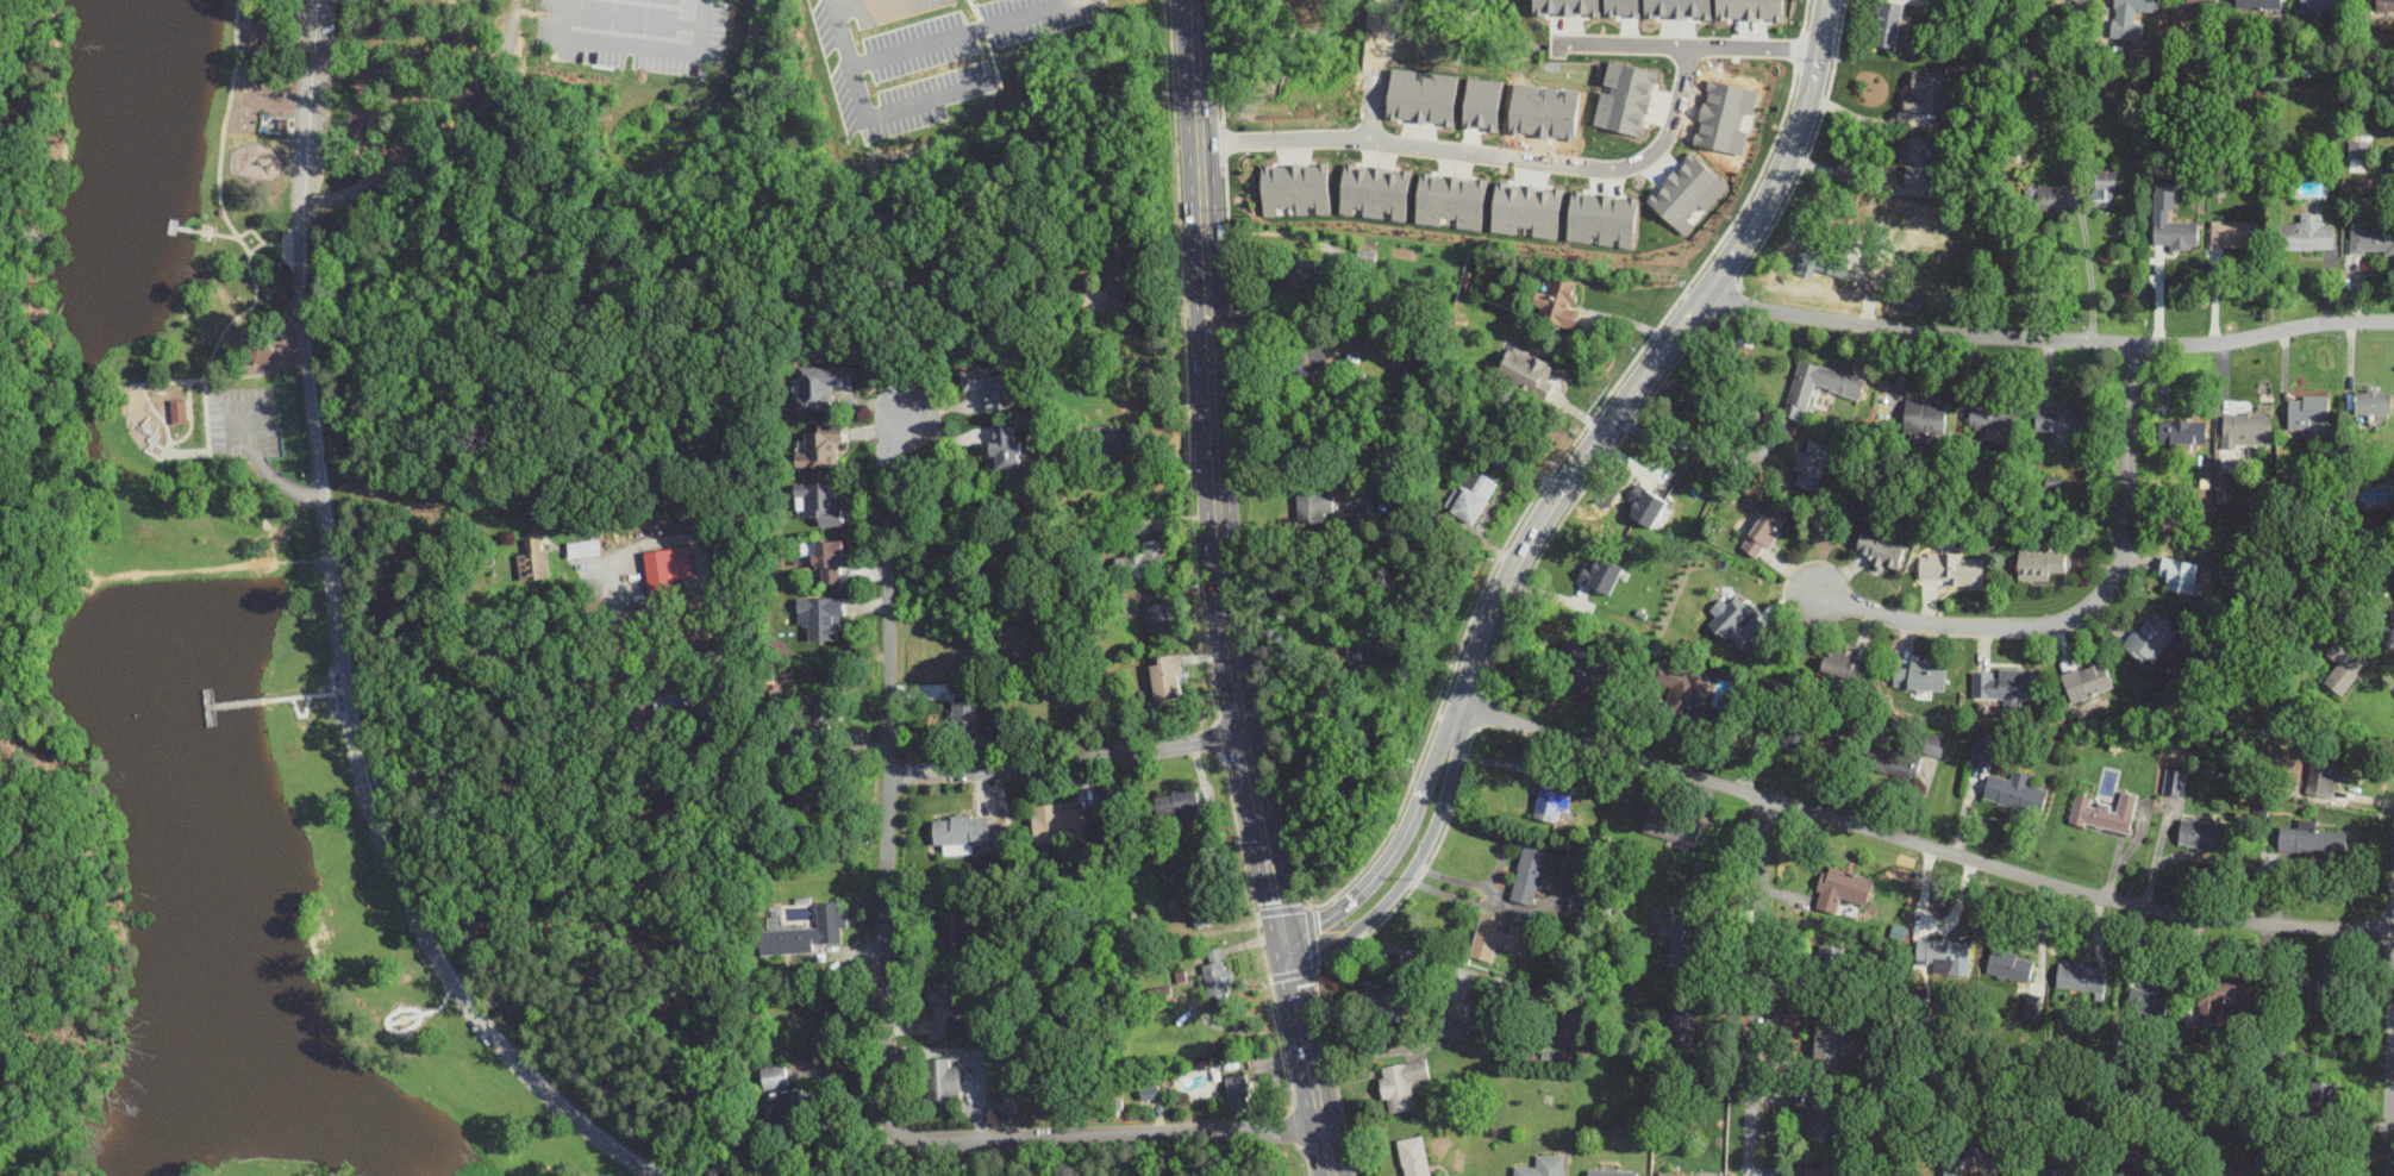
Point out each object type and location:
building: (2081, 2)
building: (2200, 4)
building: (2257, 5)
building: (2373, 5)
building: (2383, 6)
road: (851, 7)
building: (2321, 7)
building: (2131, 18)
road: (607, 19)
road: (655, 23)
building: (1887, 26)
road: (964, 32)
road: (637, 43)
road: (1686, 45)
road: (1373, 70)
building: (1925, 94)
building: (1418, 98)
road: (870, 114)
road: (1486, 152)
building: (2357, 155)
building: (1914, 159)
building: (2102, 187)
building: (1293, 189)
building: (1371, 190)
building: (2039, 199)
building: (1446, 201)
building: (2169, 221)
road: (170, 225)
road: (189, 229)
road: (221, 234)
building: (2231, 234)
building: (2304, 234)
road: (235, 236)
building: (2371, 239)
road: (262, 240)
road: (255, 248)
building: (1837, 265)
building: (1801, 267)
building: (1296, 273)
building: (1507, 292)
building: (1558, 302)
road: (2045, 336)
building: (256, 351)
building: (1312, 357)
building: (1408, 367)
building: (1527, 371)
road: (187, 380)
building: (823, 382)
building: (1815, 387)
building: (992, 388)
road: (86, 390)
building: (2370, 407)
building: (1914, 409)
building: (175, 411)
building: (2305, 412)
road: (1212, 414)
road: (160, 418)
road: (187, 418)
building: (1981, 419)
building: (2055, 423)
road: (1742, 427)
building: (2244, 429)
building: (2179, 430)
building: (1107, 436)
building: (1005, 445)
building: (823, 446)
building: (1806, 463)
road: (264, 468)
road: (1568, 486)
building: (1470, 494)
building: (823, 501)
building: (1642, 506)
building: (1329, 508)
building: (1138, 520)
building: (1764, 532)
park: (443, 544)
building: (587, 548)
building: (1881, 553)
building: (536, 559)
building: (827, 559)
building: (1142, 561)
building: (2037, 562)
dam: (279, 563)
building: (1951, 567)
building: (668, 569)
building: (1596, 573)
dam: (151, 574)
building: (2180, 574)
road: (2089, 609)
building: (824, 617)
building: (1158, 617)
building: (1740, 625)
building: (2387, 633)
building: (2150, 637)
road: (337, 643)
building: (1352, 656)
building: (1844, 662)
building: (1579, 664)
building: (2344, 665)
building: (1167, 676)
building: (1920, 676)
building: (2087, 680)
building: (2002, 683)
building: (1686, 688)
building: (683, 701)
building: (964, 714)
building: (817, 715)
building: (1789, 727)
building: (1934, 744)
building: (1982, 755)
road: (1068, 761)
building: (1893, 761)
building: (2327, 772)
building: (2174, 781)
road: (581, 782)
building: (2014, 792)
building: (1552, 800)
building: (1177, 802)
building: (2105, 812)
building: (1056, 821)
building: (1671, 826)
building: (958, 831)
building: (2201, 833)
building: (2313, 840)
road: (1923, 845)
building: (1529, 874)
road: (1274, 884)
building: (1842, 888)
building: (1580, 899)
building: (1200, 908)
building: (952, 926)
building: (805, 932)
building: (1499, 937)
traffic signals: (1286, 942)
building: (1684, 943)
building: (1943, 952)
building: (1834, 957)
building: (2007, 964)
building: (1215, 974)
building: (2082, 976)
road: (1752, 987)
road: (883, 988)
building: (2317, 989)
building: (1381, 992)
building: (2151, 992)
building: (2225, 1001)
building: (942, 1008)
building: (1456, 1025)
building: (1681, 1028)
building: (1829, 1044)
building: (1027, 1052)
road: (1309, 1058)
road: (2389, 1068)
building: (774, 1075)
building: (943, 1080)
building: (1402, 1083)
building: (1237, 1090)
building: (1145, 1091)
building: (2326, 1107)
building: (790, 1108)
building: (1825, 1121)
building: (1413, 1156)
building: (1543, 1166)
building: (1958, 1170)
building: (1821, 1171)
building: (2045, 1171)
building: (2126, 1171)
building: (1612, 1172)
building: (1683, 1174)

